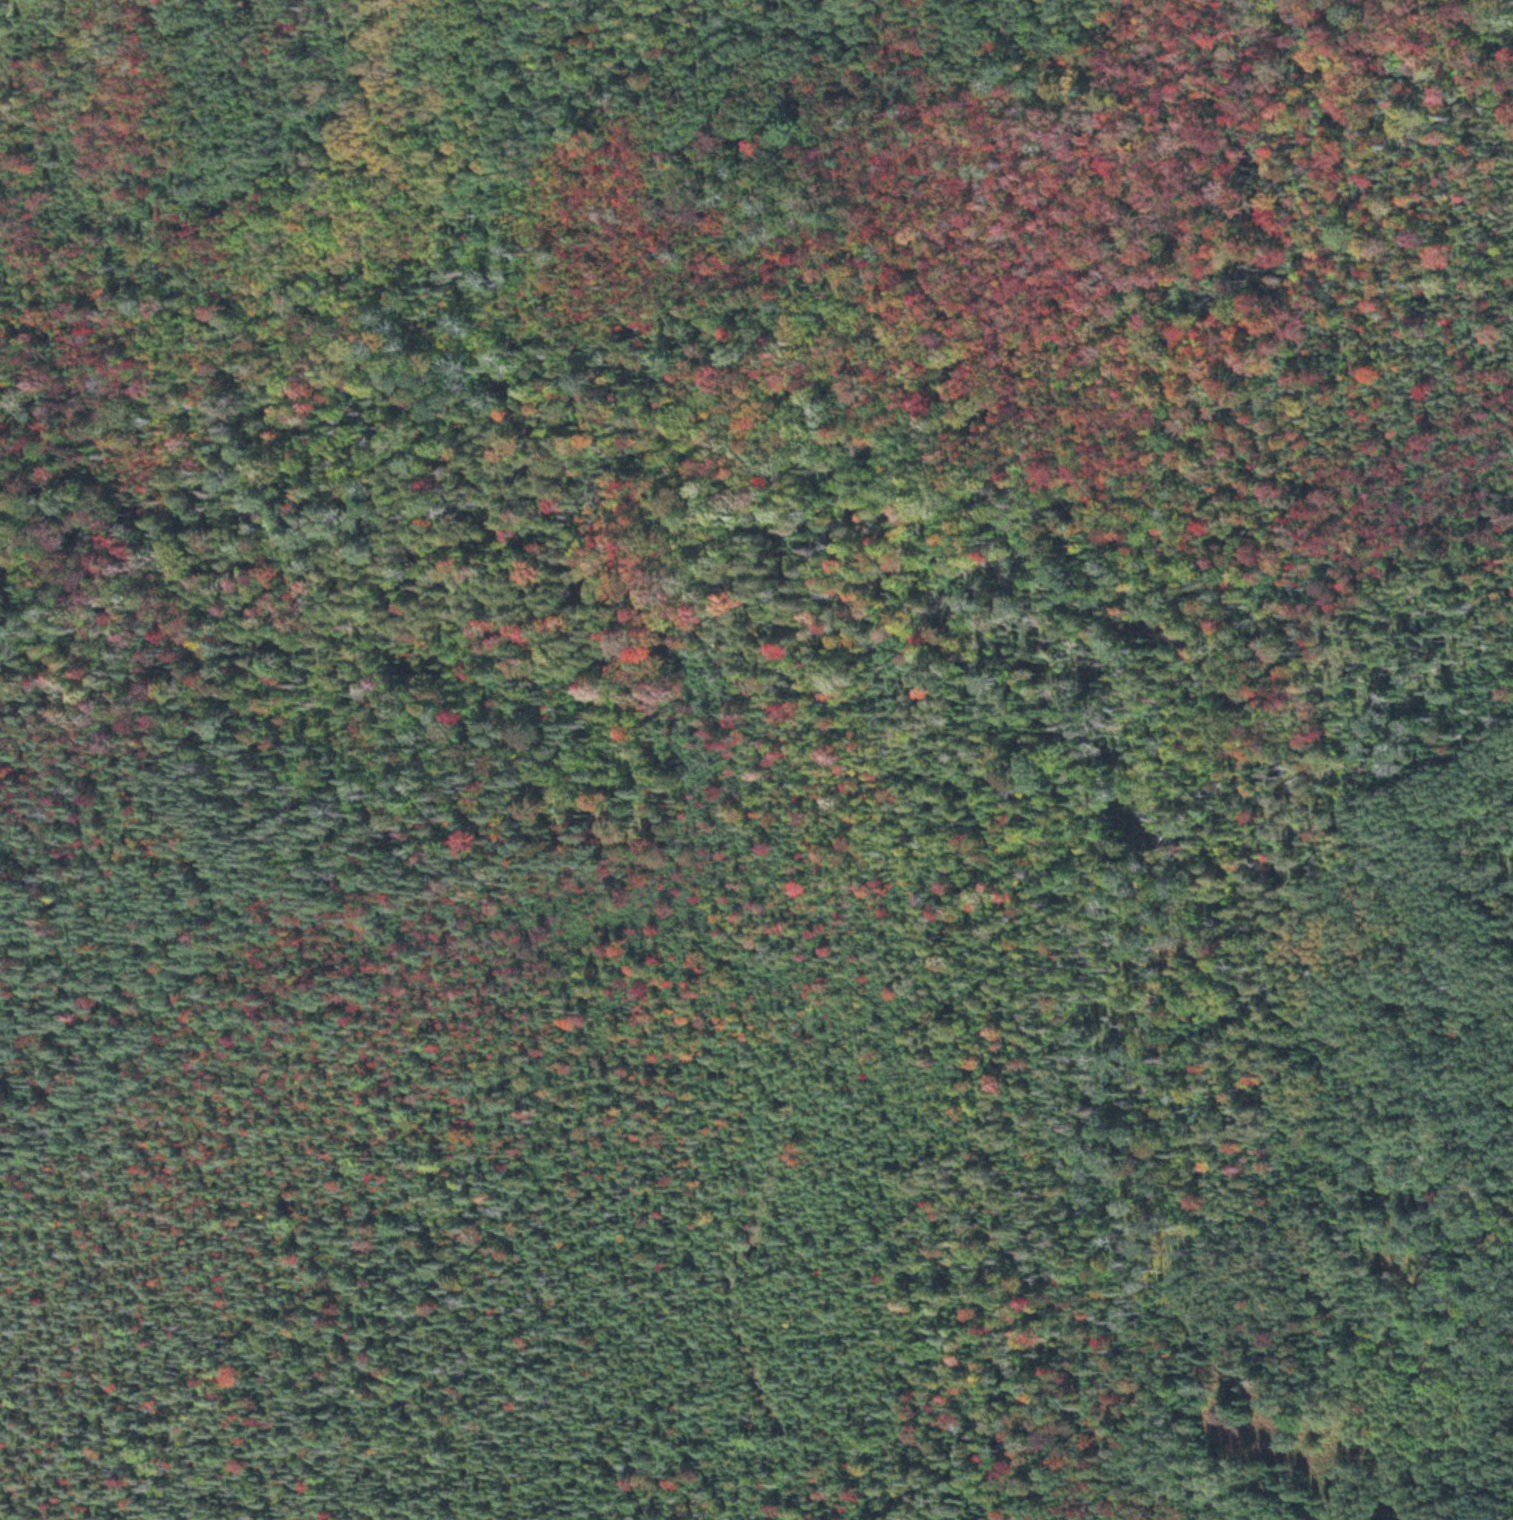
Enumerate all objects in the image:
road: (1399, 1456)

